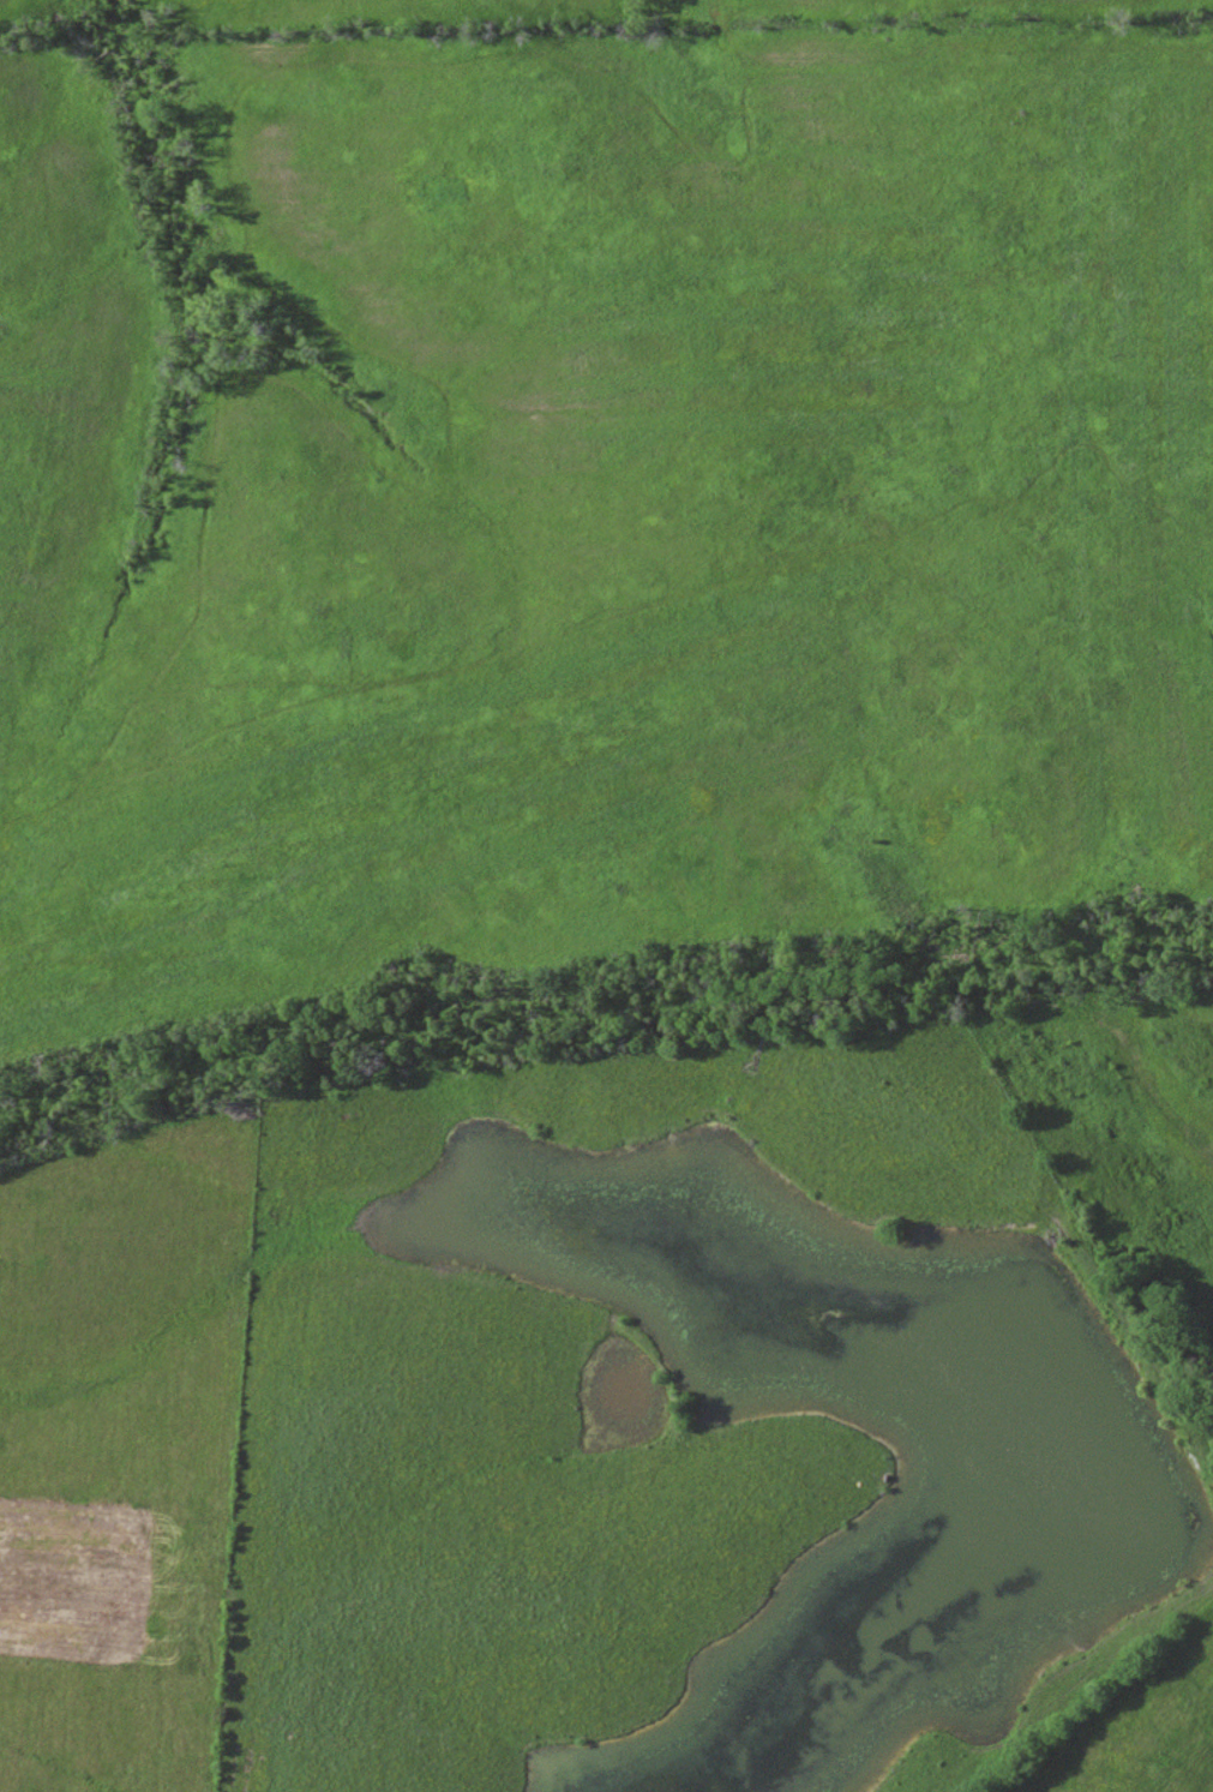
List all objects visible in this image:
dam: (1140, 1379)

